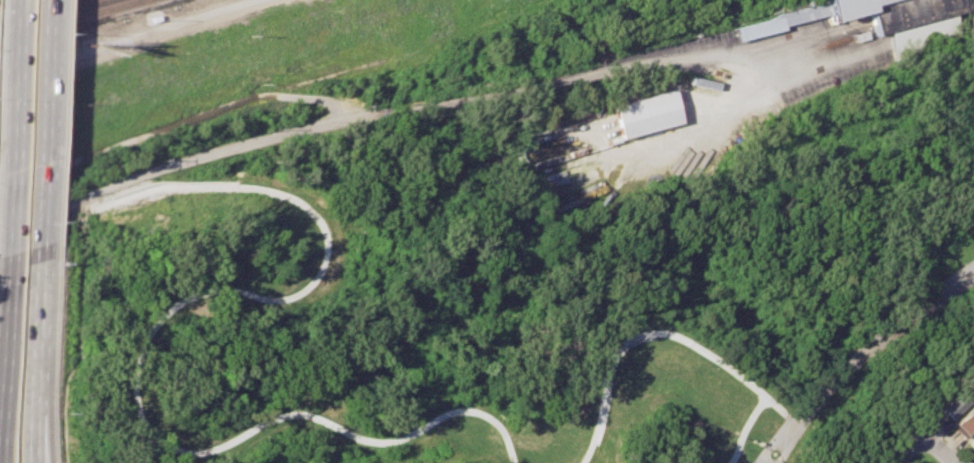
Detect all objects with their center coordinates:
railway: (6, 1)
railway: (34, 9)
railway: (40, 13)
railway: (52, 14)
building: (878, 17)
railway: (69, 19)
railway: (100, 28)
road: (604, 69)
road: (311, 96)
building: (646, 113)
road: (185, 120)
road: (45, 125)
road: (7, 127)
road: (237, 145)
road: (46, 211)
road: (2, 300)
park: (608, 331)
road: (39, 333)
road: (685, 345)
road: (145, 347)
road: (862, 358)
building: (957, 398)
road: (786, 412)
building: (966, 420)
building: (972, 438)
road: (37, 440)
road: (43, 440)
road: (922, 440)

